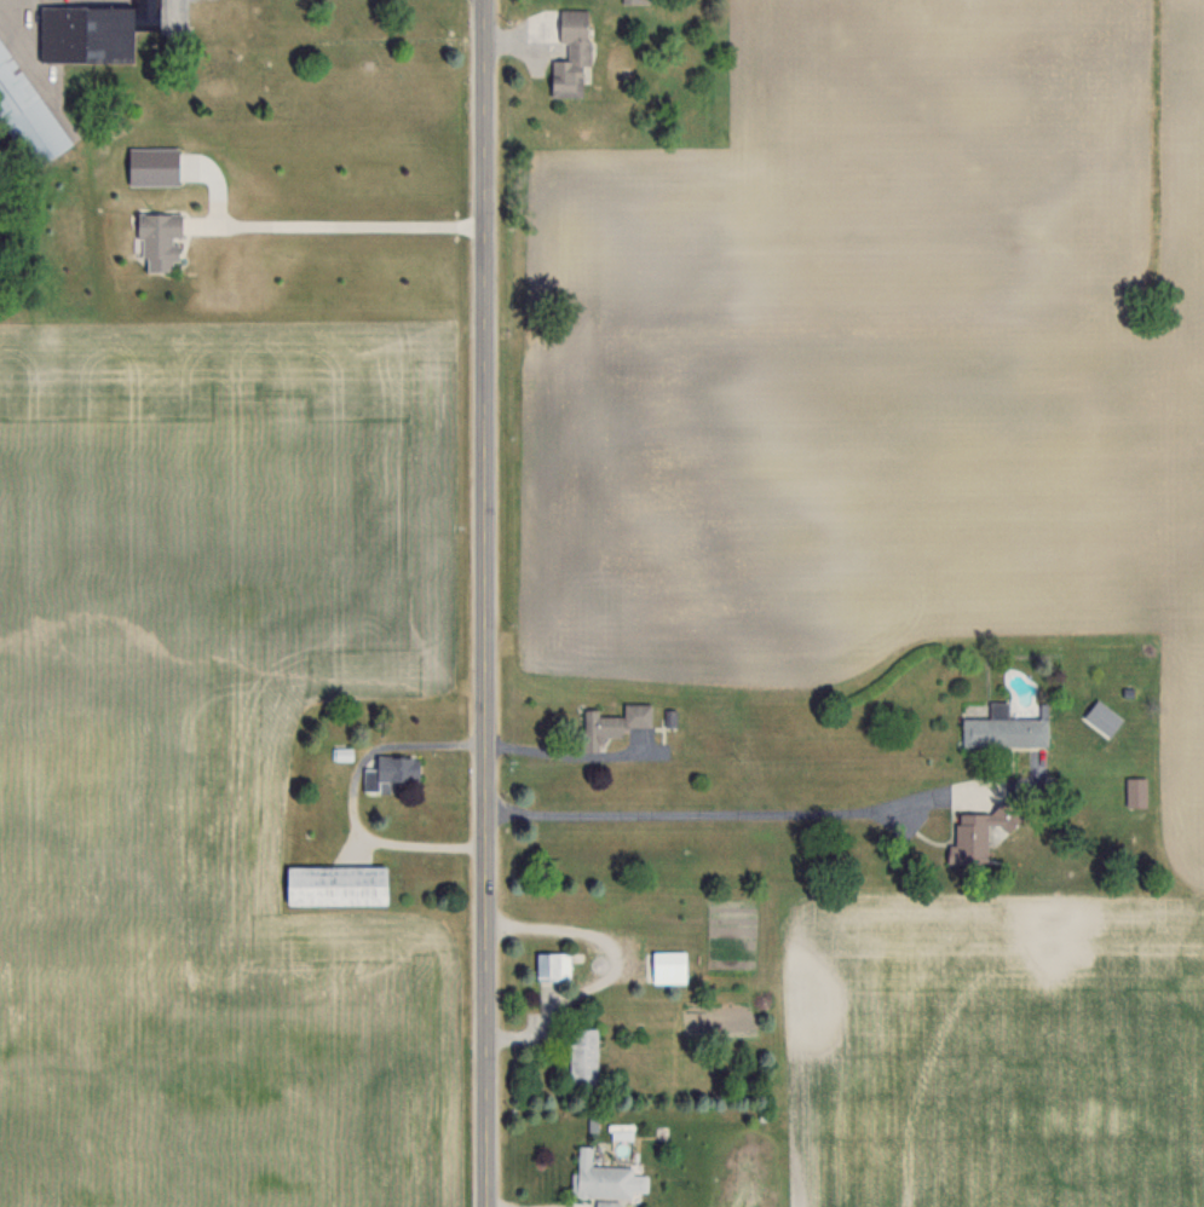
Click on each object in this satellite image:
building: (635, 1)
building: (93, 30)
building: (570, 53)
building: (24, 116)
road: (342, 224)
building: (157, 239)
road: (484, 603)
building: (612, 723)
building: (1003, 729)
building: (387, 772)
building: (1136, 790)
road: (779, 810)
building: (979, 832)
building: (333, 884)
building: (551, 965)
building: (668, 966)
building: (582, 1056)
building: (599, 1177)
building: (607, 1203)

